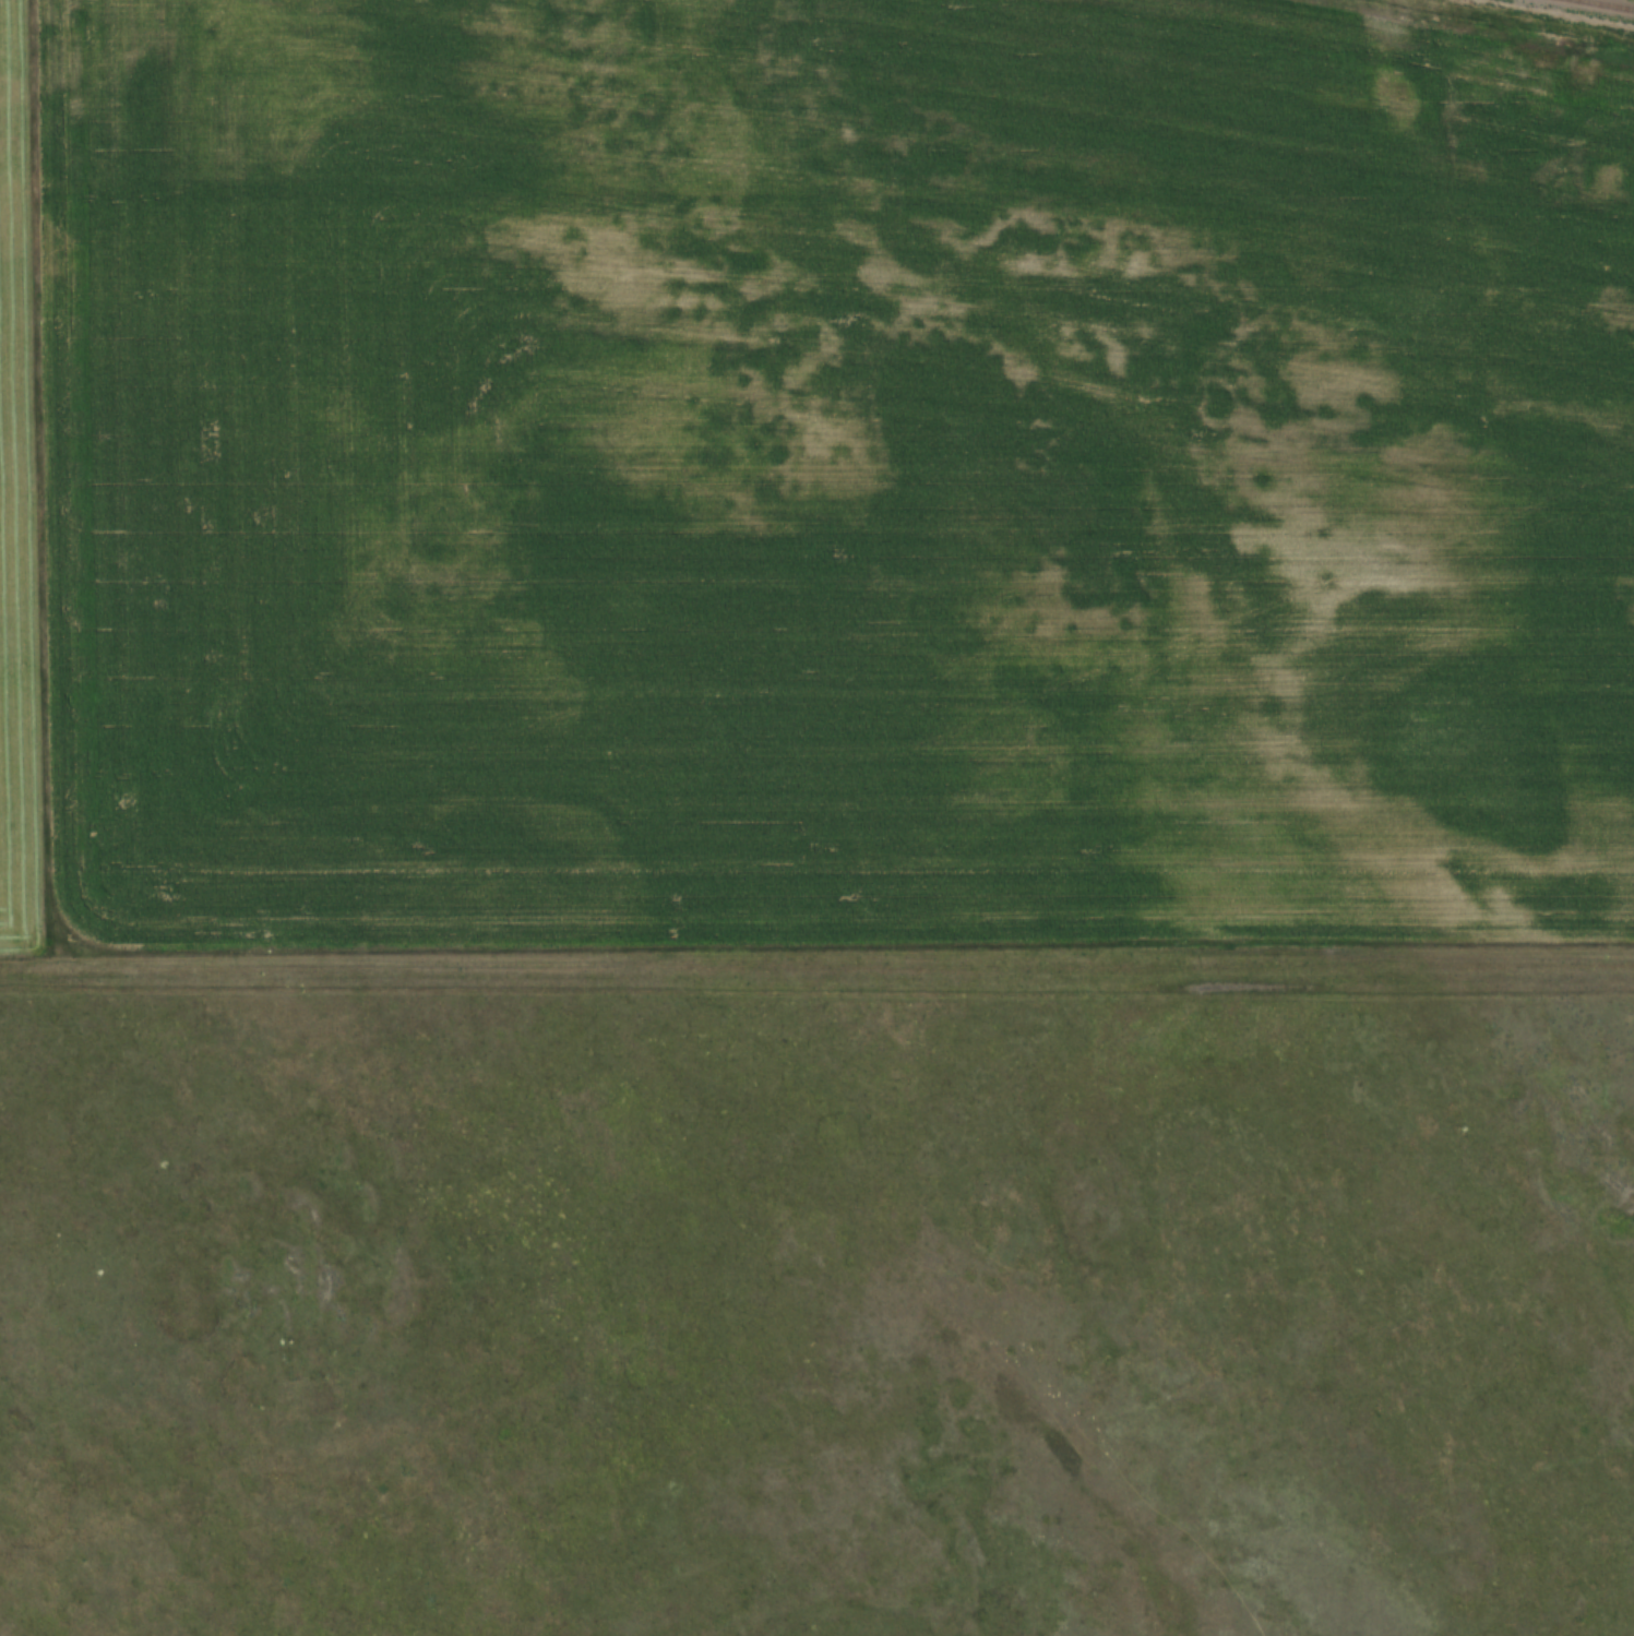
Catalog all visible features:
railway: (1603, 5)

